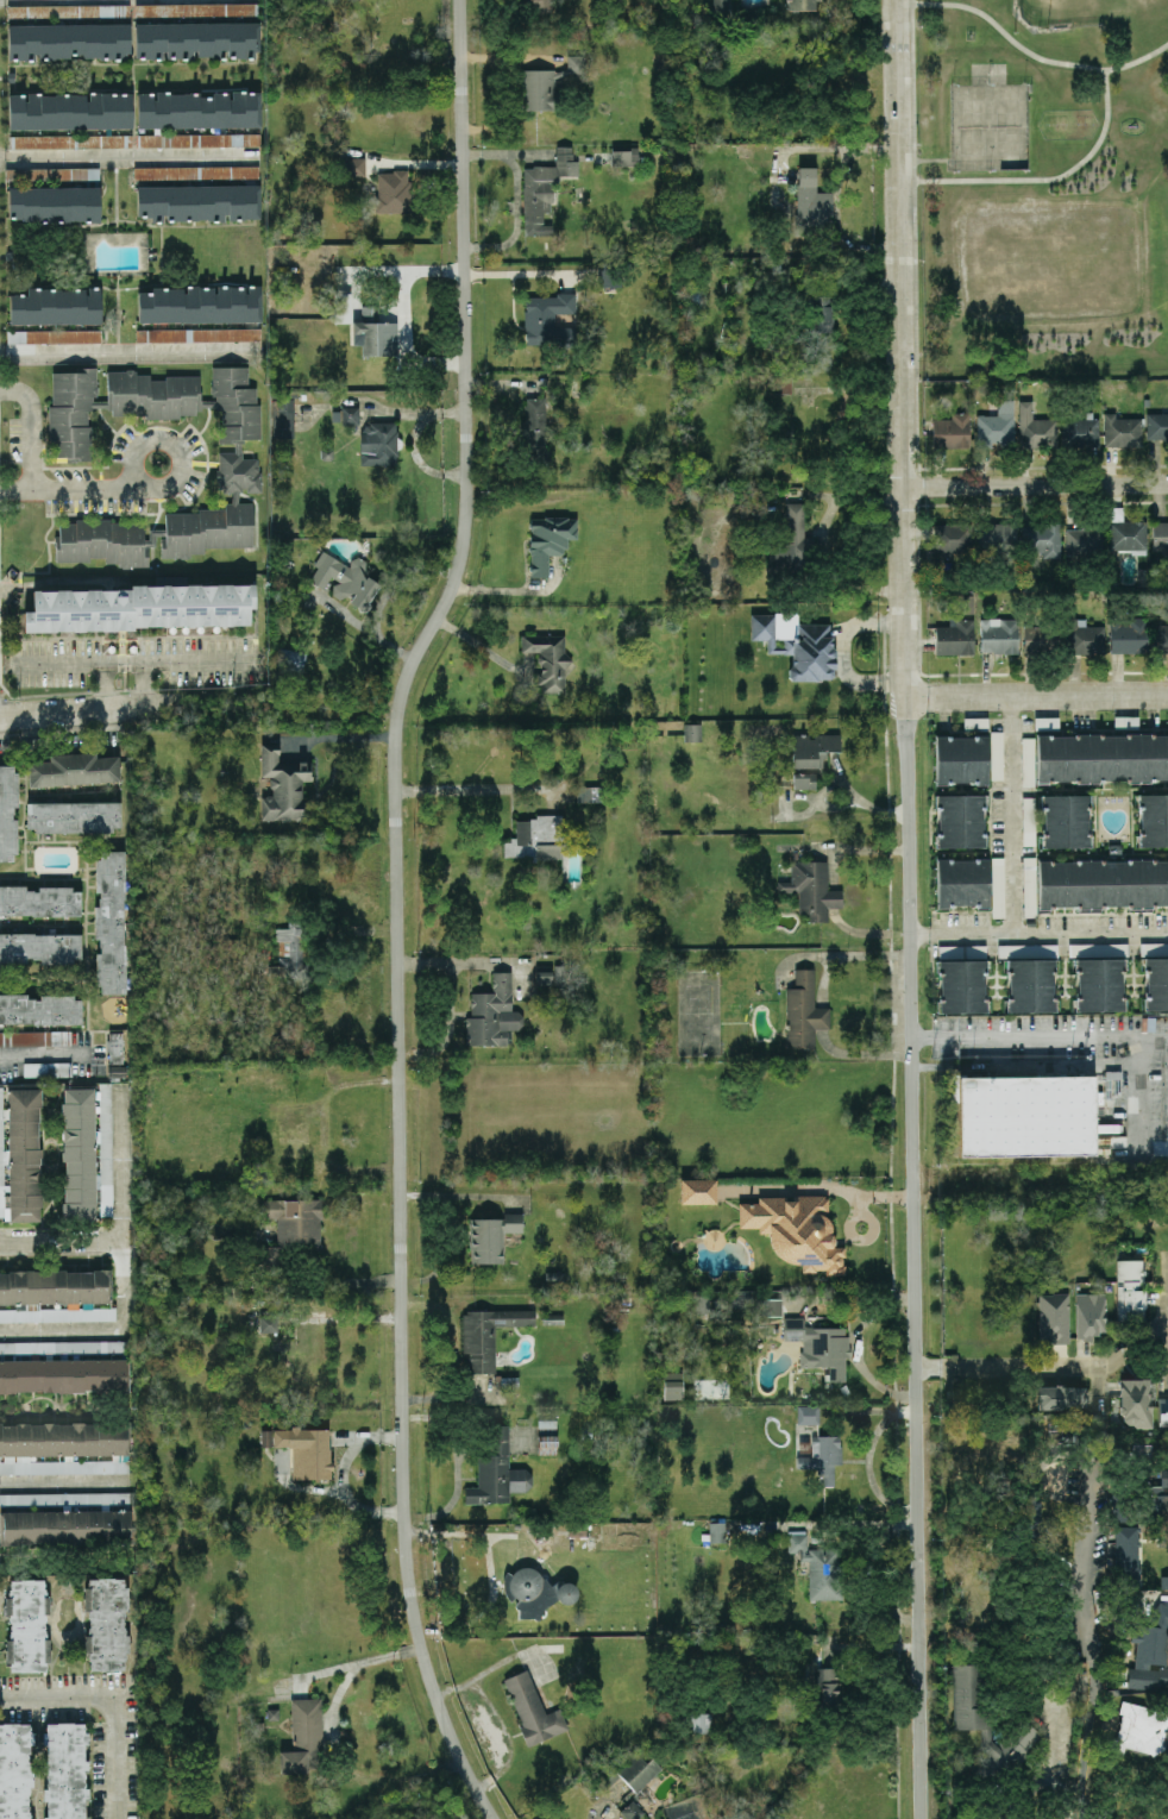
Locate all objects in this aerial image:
building: (799, 5)
building: (540, 6)
building: (196, 10)
building: (65, 11)
building: (195, 39)
road: (1031, 54)
building: (550, 83)
building: (199, 109)
building: (70, 111)
park: (986, 126)
building: (134, 140)
road: (128, 155)
building: (624, 156)
road: (927, 158)
building: (352, 167)
building: (196, 173)
building: (51, 174)
road: (1045, 178)
building: (544, 189)
park: (1043, 189)
building: (393, 192)
road: (115, 193)
building: (199, 202)
building: (54, 203)
building: (812, 205)
road: (516, 274)
building: (609, 277)
building: (201, 303)
building: (343, 305)
building: (56, 306)
road: (117, 312)
building: (818, 314)
building: (547, 319)
building: (197, 334)
building: (375, 334)
building: (54, 337)
road: (130, 351)
building: (350, 415)
building: (282, 418)
building: (996, 426)
building: (1157, 426)
building: (1035, 427)
building: (535, 428)
building: (952, 431)
building: (1122, 431)
building: (1080, 432)
building: (378, 443)
building: (240, 476)
road: (1038, 483)
road: (17, 487)
road: (40, 487)
building: (1125, 532)
building: (952, 538)
building: (1160, 538)
building: (792, 539)
building: (548, 540)
building: (1084, 540)
building: (345, 579)
building: (139, 607)
building: (998, 635)
building: (1129, 635)
building: (954, 638)
building: (1085, 638)
building: (1160, 638)
building: (1036, 639)
building: (798, 646)
building: (291, 659)
road: (137, 660)
building: (550, 660)
road: (145, 684)
road: (107, 685)
road: (1038, 696)
road: (106, 710)
building: (1126, 725)
building: (975, 726)
building: (1047, 726)
building: (692, 732)
road: (340, 738)
building: (1026, 748)
building: (996, 755)
building: (810, 757)
building: (1101, 758)
building: (961, 760)
building: (74, 769)
building: (282, 785)
road: (453, 789)
building: (588, 794)
building: (7, 813)
road: (1012, 815)
building: (73, 816)
building: (1153, 820)
building: (960, 821)
building: (1066, 821)
building: (542, 839)
building: (962, 883)
building: (1103, 884)
building: (997, 886)
building: (811, 889)
building: (1029, 893)
building: (39, 902)
road: (910, 909)
road: (396, 910)
building: (111, 921)
road: (1038, 933)
building: (40, 947)
building: (1076, 948)
building: (289, 951)
building: (1099, 984)
building: (1156, 984)
building: (1031, 985)
building: (962, 986)
building: (39, 1009)
building: (804, 1011)
building: (492, 1014)
road: (1040, 1034)
building: (32, 1037)
road: (43, 1056)
road: (1137, 1106)
building: (1031, 1119)
building: (1112, 1134)
building: (87, 1152)
building: (20, 1156)
building: (697, 1191)
road: (860, 1192)
building: (290, 1228)
building: (796, 1230)
building: (491, 1237)
road: (63, 1241)
road: (126, 1269)
road: (331, 1280)
building: (1130, 1290)
building: (56, 1296)
building: (773, 1306)
building: (1088, 1315)
building: (1053, 1317)
building: (269, 1324)
building: (488, 1335)
building: (62, 1347)
building: (820, 1347)
road: (1047, 1366)
building: (63, 1375)
building: (1061, 1397)
building: (1135, 1403)
building: (1162, 1411)
building: (808, 1415)
building: (266, 1437)
building: (547, 1444)
building: (63, 1448)
building: (306, 1450)
building: (822, 1457)
building: (497, 1473)
road: (63, 1482)
building: (1158, 1498)
building: (64, 1526)
building: (716, 1532)
building: (1126, 1554)
building: (817, 1567)
road: (1082, 1581)
building: (535, 1591)
building: (106, 1623)
building: (26, 1625)
building: (1150, 1652)
road: (359, 1663)
building: (824, 1687)
road: (1070, 1688)
road: (117, 1698)
building: (532, 1710)
road: (500, 1721)
building: (699, 1723)
building: (986, 1725)
building: (1141, 1729)
building: (303, 1738)
road: (1086, 1738)
road: (1054, 1743)
building: (14, 1770)
building: (65, 1770)
building: (633, 1775)
road: (1056, 1782)
building: (632, 1811)

